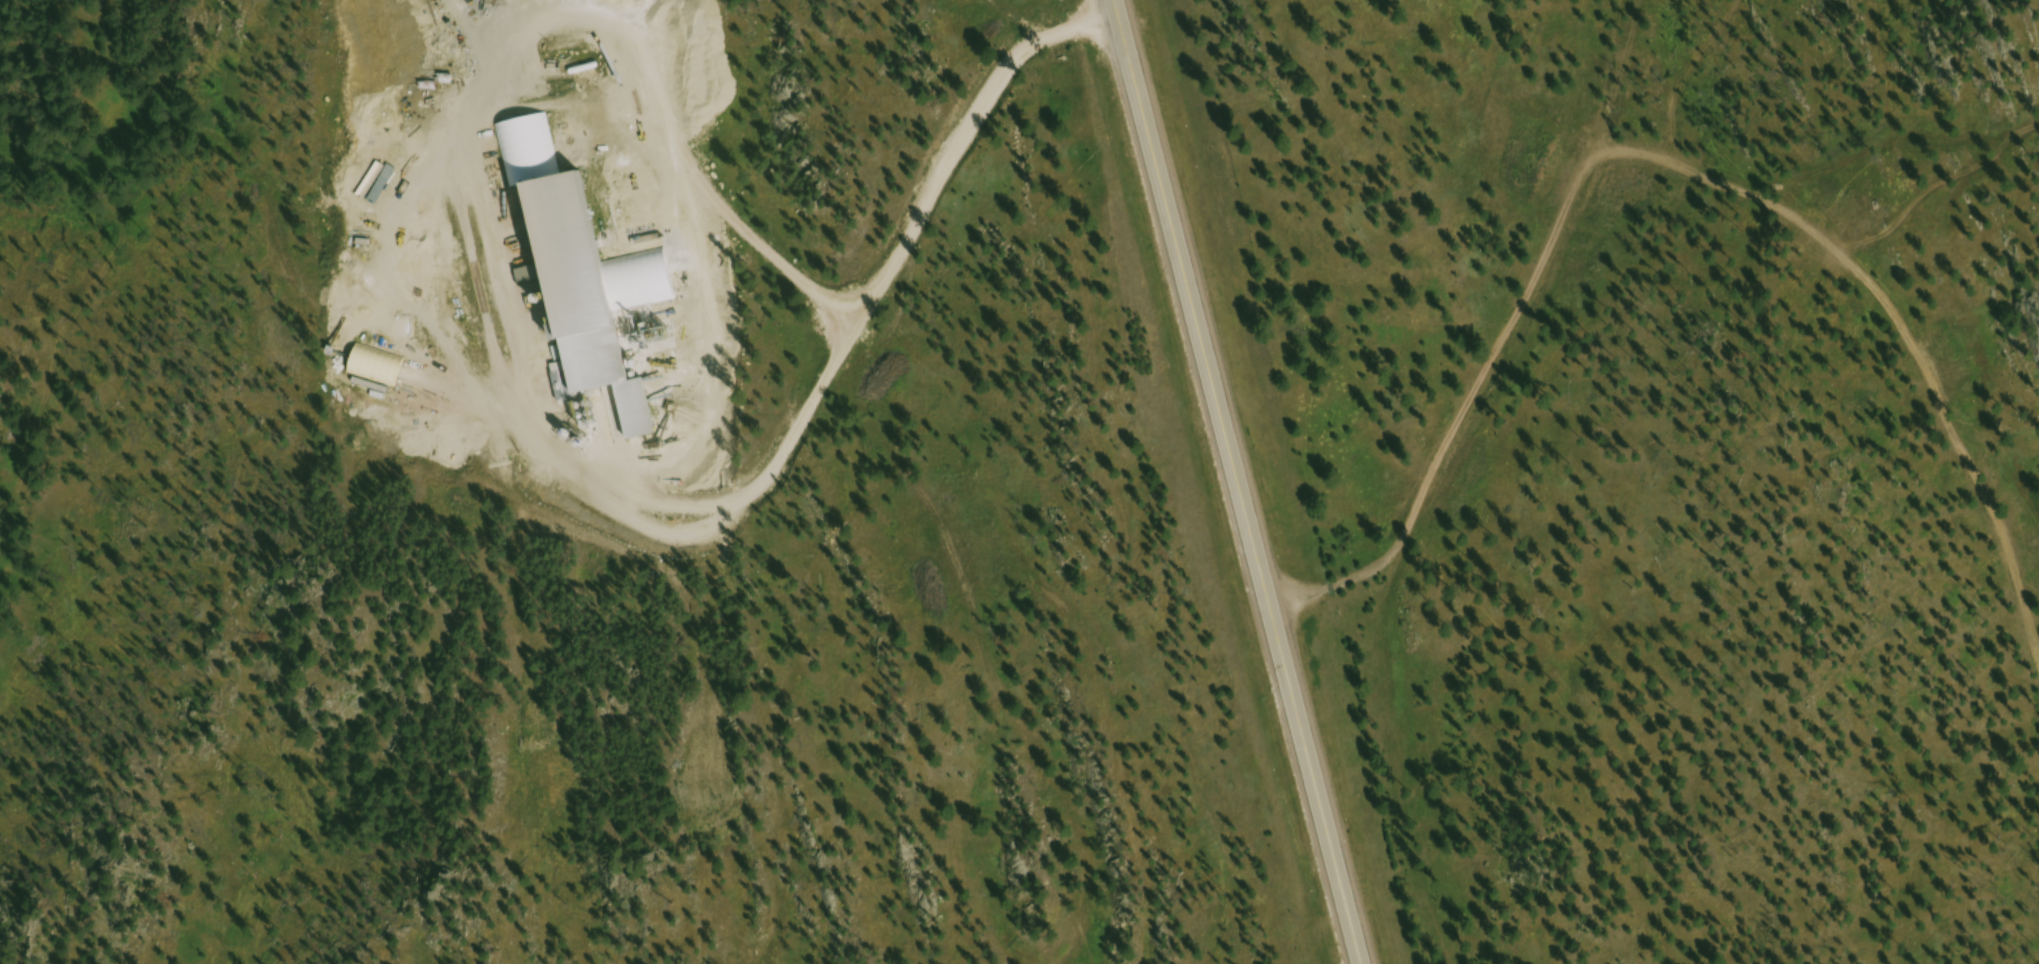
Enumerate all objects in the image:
road: (922, 217)
building: (588, 299)
road: (1460, 304)
road: (1236, 467)
road: (1358, 950)

